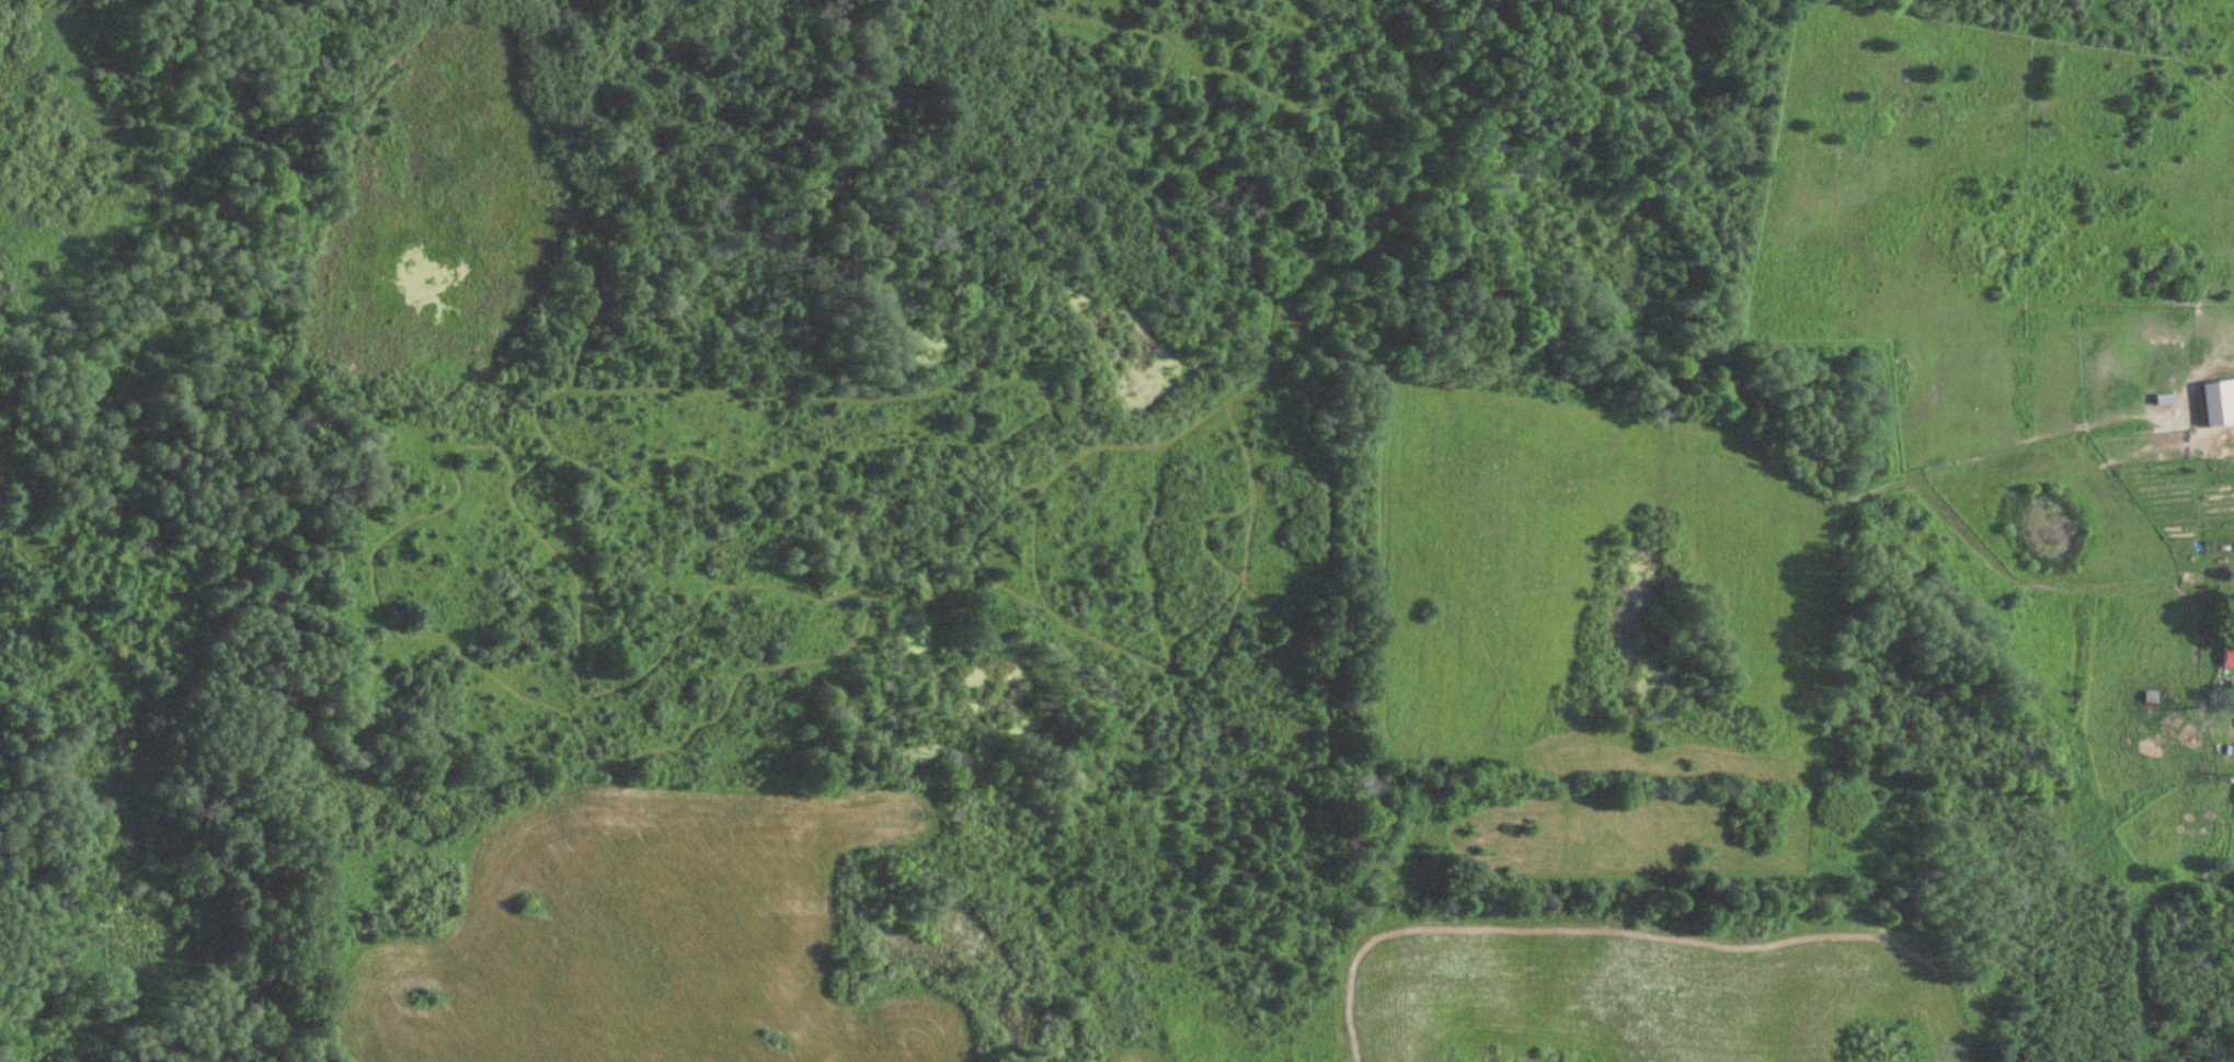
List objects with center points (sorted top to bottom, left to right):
building: (2227, 655)
building: (2188, 736)

